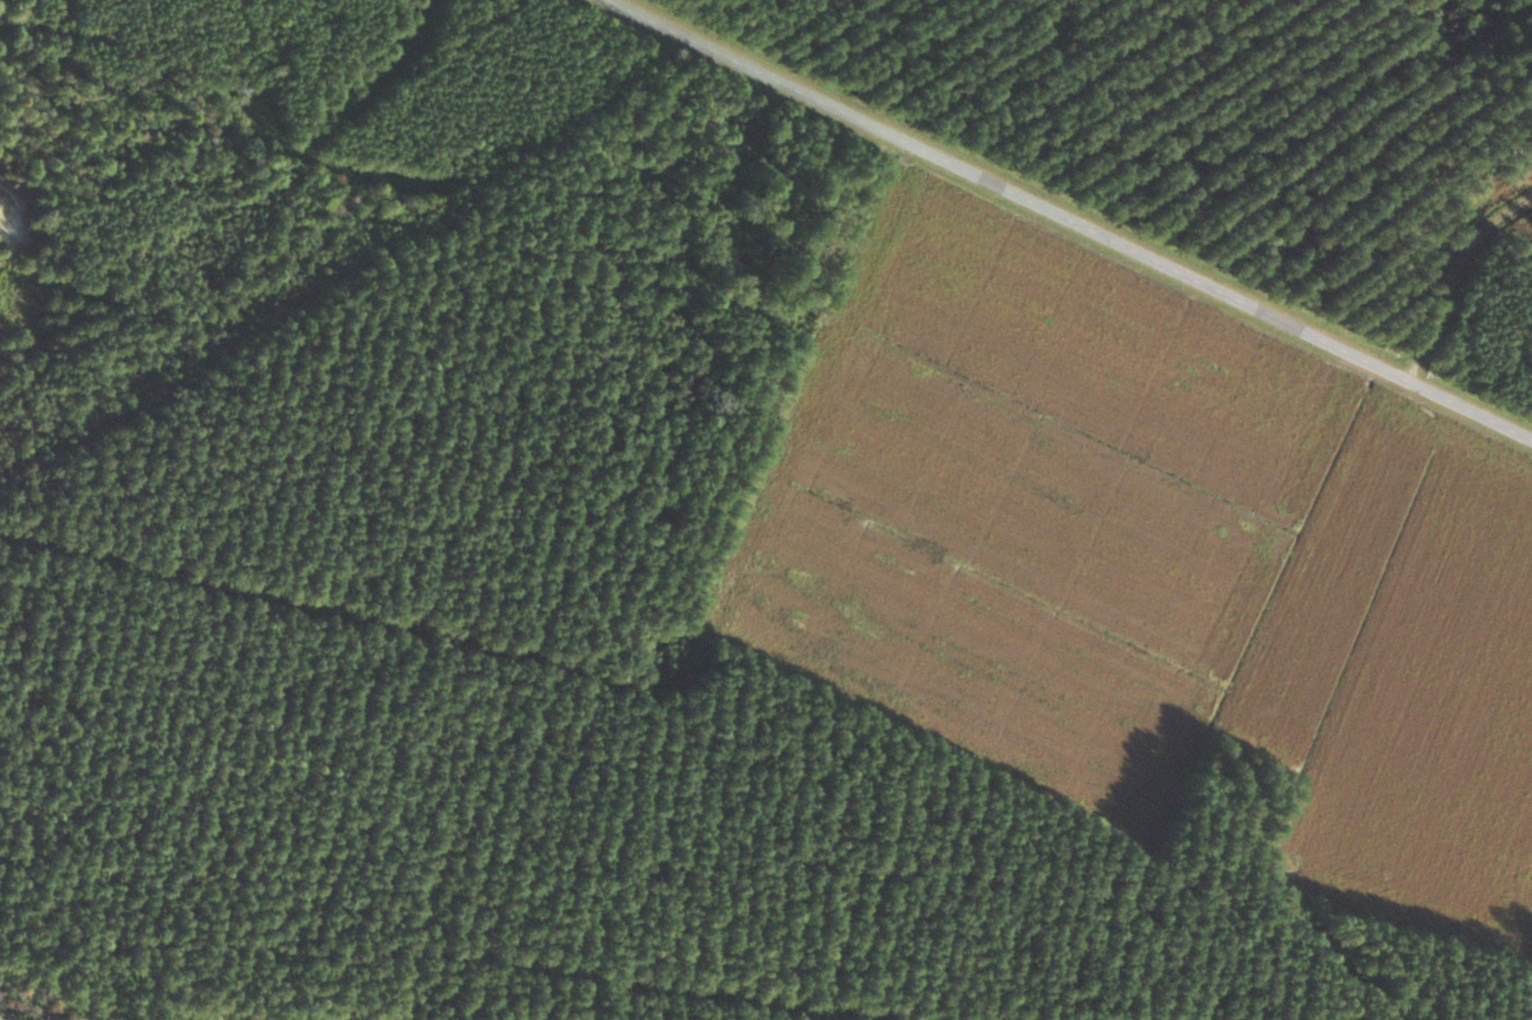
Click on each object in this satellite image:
road: (1067, 221)

